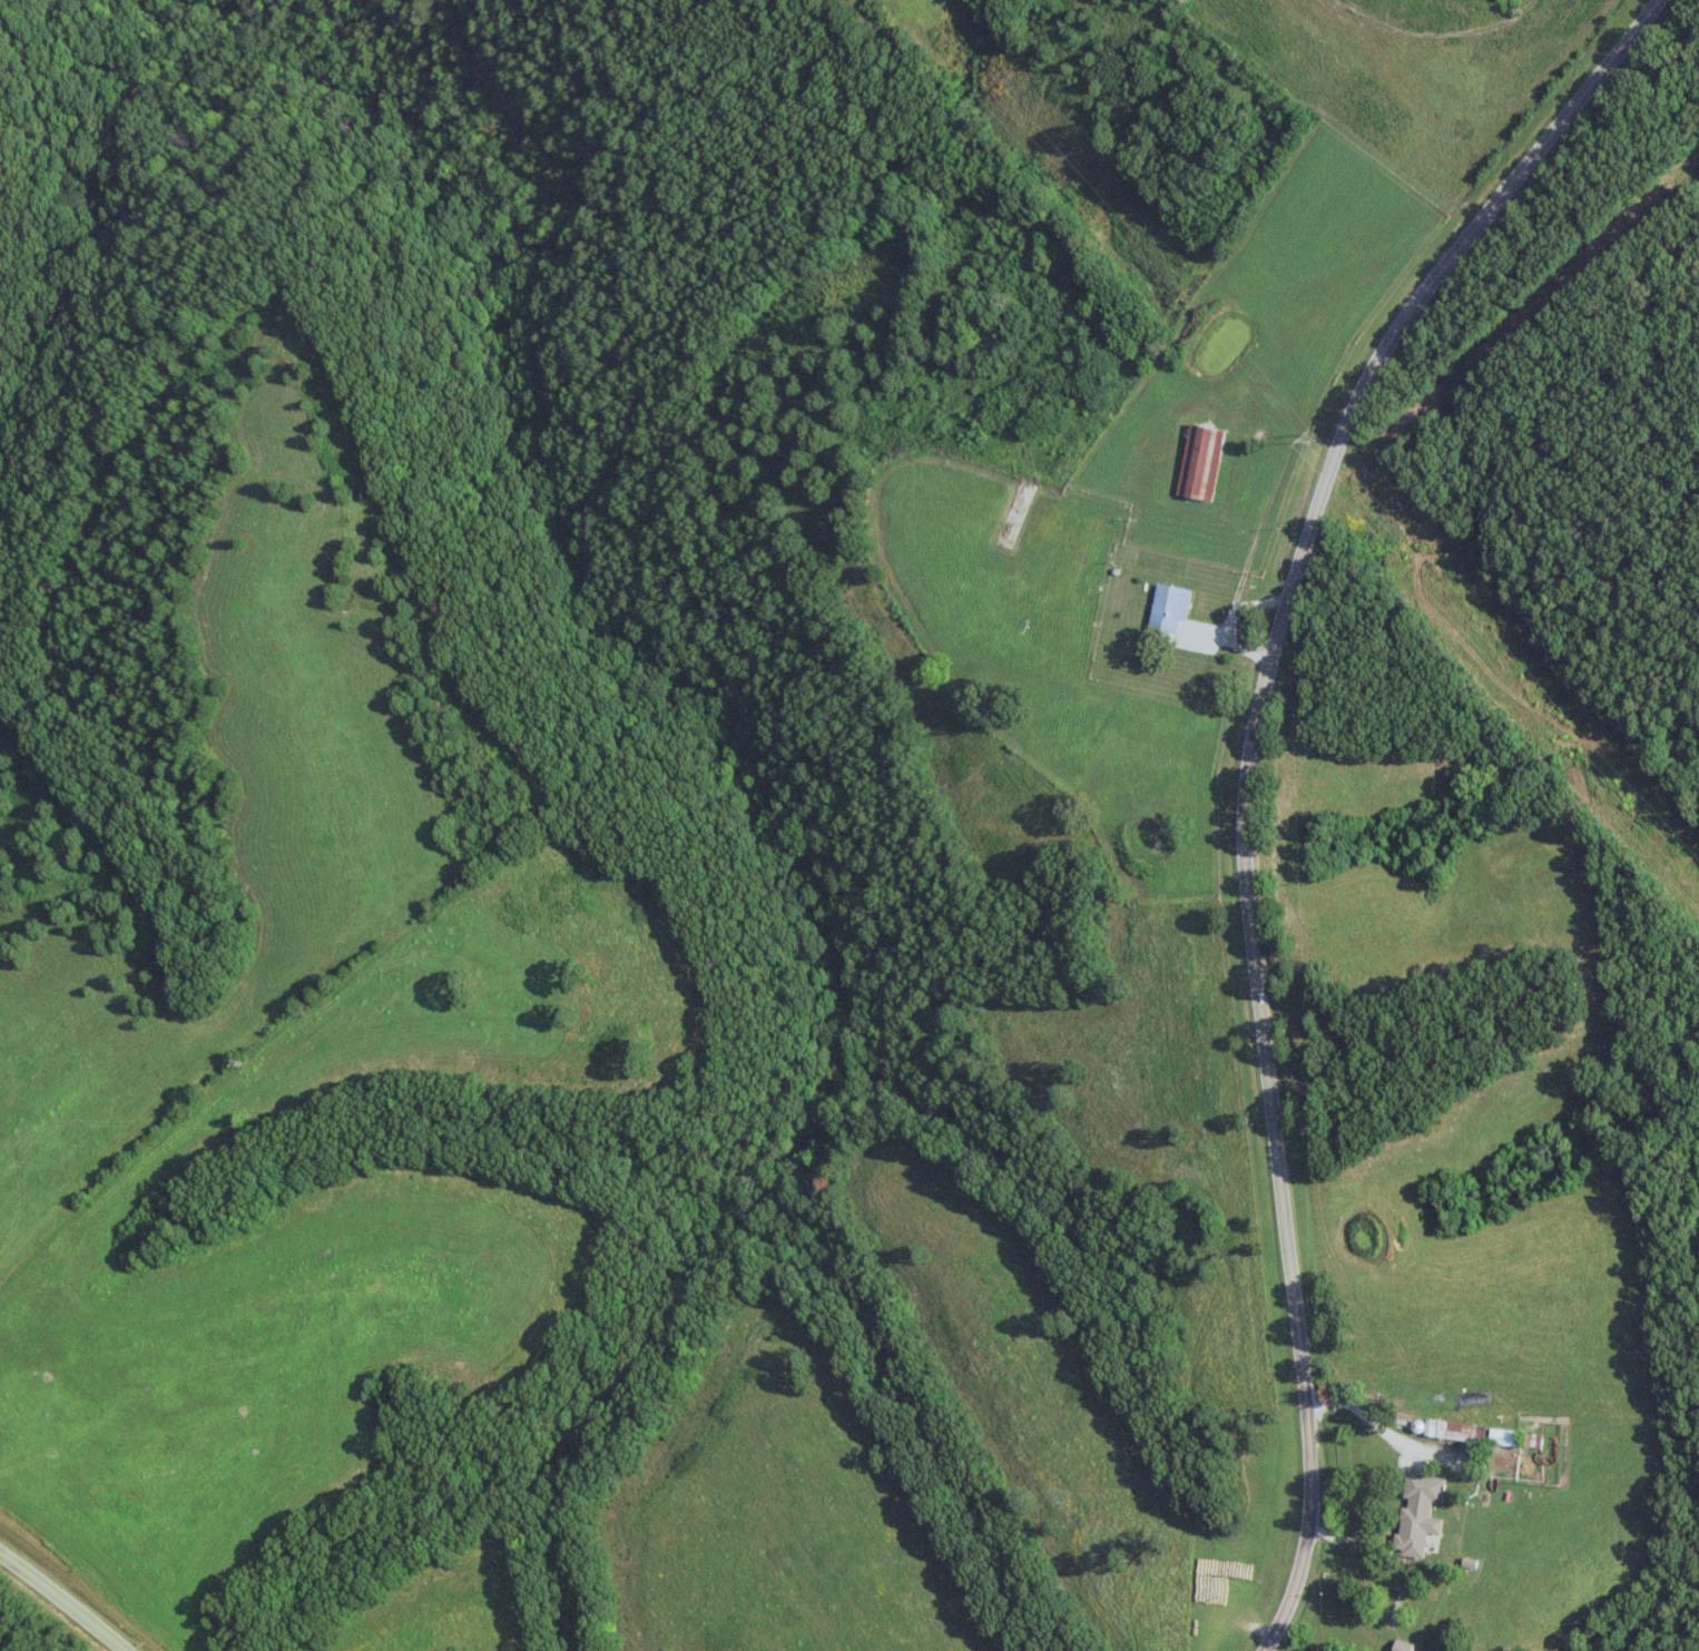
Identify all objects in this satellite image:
power tower: (1307, 438)
building: (1198, 461)
building: (1167, 607)
road: (1249, 773)
building: (1500, 1436)
building: (1414, 1513)
road: (68, 1598)
building: (1398, 1645)

